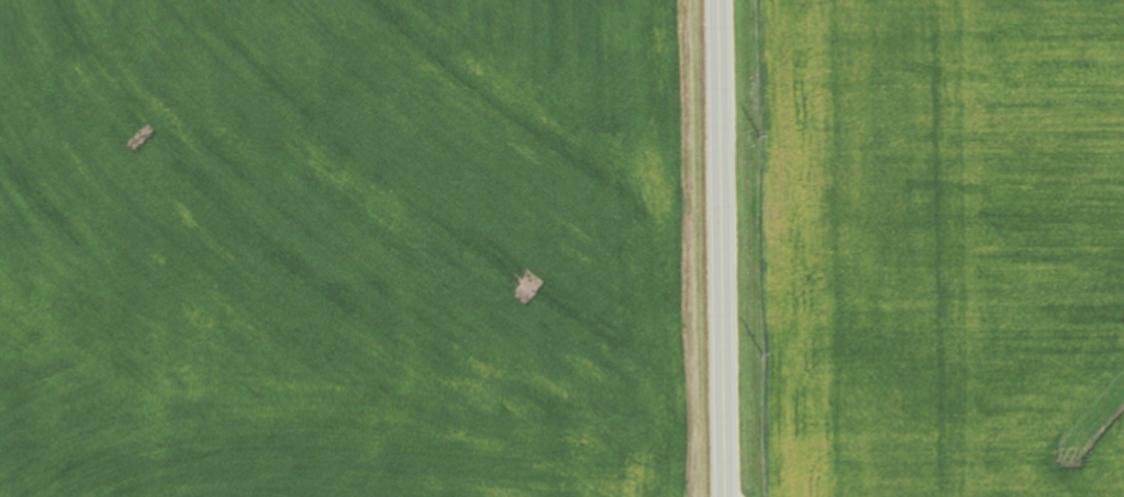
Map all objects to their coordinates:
road: (723, 248)

